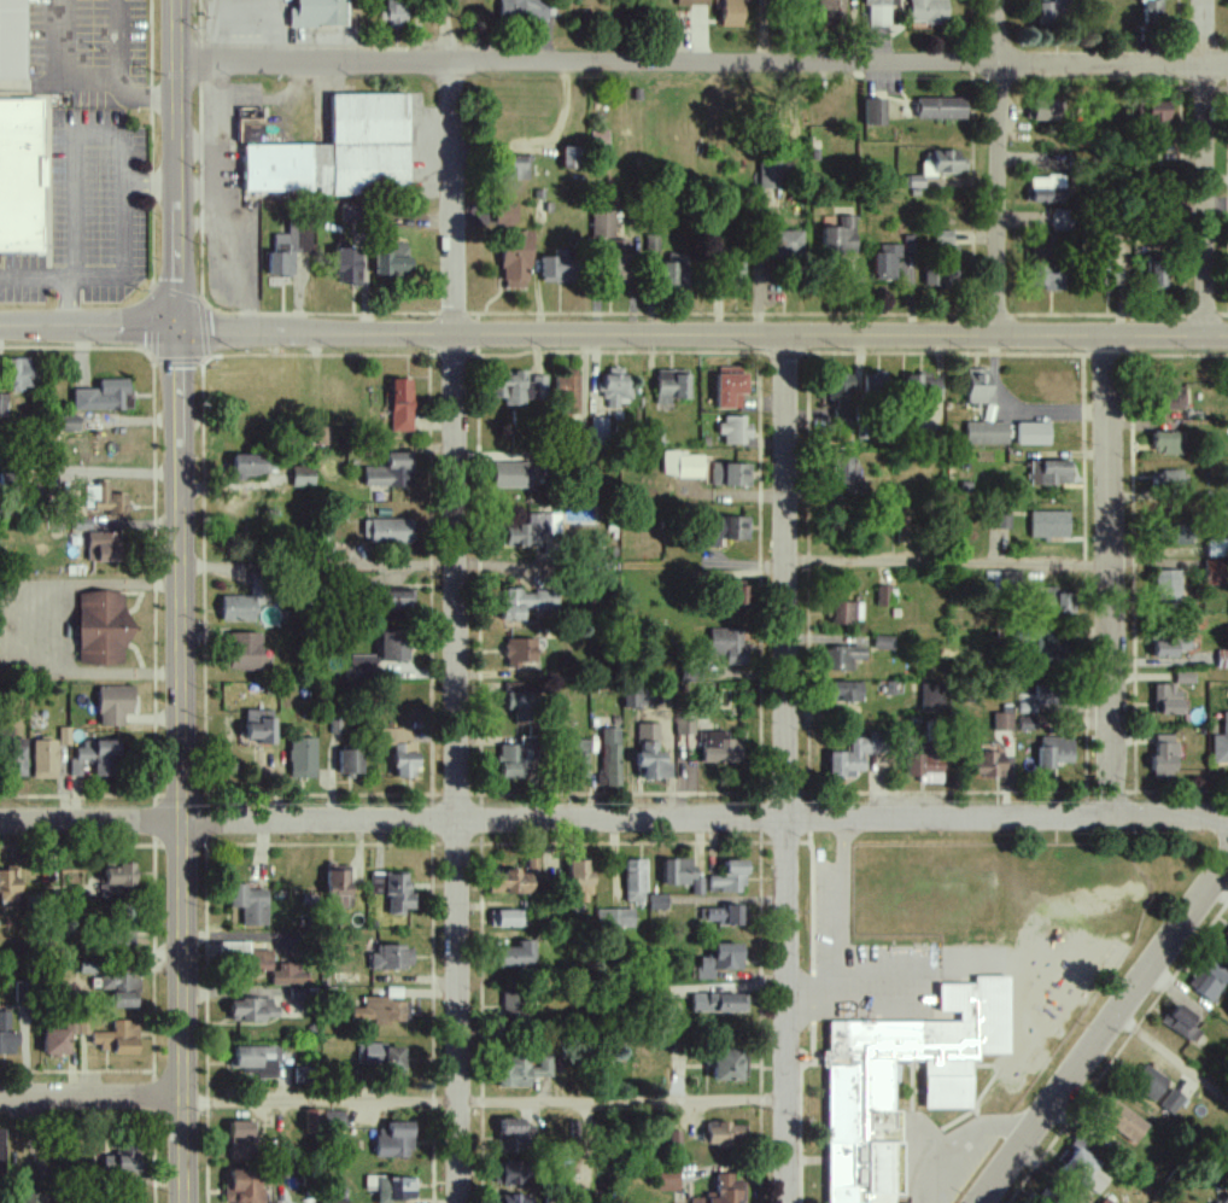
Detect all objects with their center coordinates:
building: (691, 2)
building: (831, 10)
building: (394, 11)
building: (879, 11)
building: (928, 11)
building: (317, 13)
building: (732, 13)
building: (1051, 13)
building: (1152, 13)
building: (13, 39)
road: (702, 60)
road: (88, 78)
road: (269, 100)
building: (941, 109)
building: (1048, 110)
building: (875, 112)
building: (1157, 117)
building: (250, 125)
road: (122, 136)
road: (197, 144)
building: (340, 153)
building: (571, 158)
building: (942, 163)
road: (999, 165)
road: (1203, 167)
building: (517, 168)
building: (21, 175)
building: (773, 175)
building: (914, 181)
road: (152, 182)
road: (198, 188)
building: (1047, 189)
road: (217, 199)
building: (349, 212)
building: (504, 216)
building: (1063, 221)
road: (197, 222)
building: (603, 224)
building: (838, 238)
building: (943, 238)
building: (293, 240)
building: (651, 243)
building: (784, 246)
building: (911, 246)
building: (392, 259)
building: (515, 259)
building: (887, 262)
building: (619, 263)
building: (281, 264)
building: (347, 267)
building: (943, 268)
building: (559, 270)
building: (1158, 270)
building: (735, 273)
building: (1048, 273)
building: (673, 274)
road: (37, 278)
building: (1112, 278)
road: (75, 303)
road: (89, 328)
road: (703, 331)
building: (21, 374)
building: (875, 385)
building: (672, 386)
building: (978, 386)
building: (615, 387)
building: (730, 387)
building: (923, 387)
building: (519, 389)
building: (567, 396)
building: (103, 397)
building: (1173, 397)
building: (840, 399)
building: (400, 405)
building: (2, 407)
building: (516, 419)
building: (69, 422)
building: (598, 430)
building: (735, 430)
building: (987, 433)
building: (1033, 433)
building: (843, 439)
building: (1169, 442)
building: (252, 463)
building: (682, 465)
building: (388, 471)
building: (1049, 472)
building: (731, 473)
building: (511, 474)
building: (847, 474)
building: (302, 477)
building: (1171, 478)
building: (104, 498)
building: (1001, 519)
building: (1048, 524)
building: (906, 527)
building: (725, 528)
building: (1174, 528)
building: (386, 530)
building: (103, 545)
building: (1217, 548)
road: (947, 562)
building: (1212, 572)
road: (1111, 574)
building: (1166, 586)
building: (739, 594)
building: (883, 595)
building: (397, 597)
road: (180, 601)
road: (456, 601)
building: (241, 602)
building: (525, 602)
building: (1064, 602)
building: (847, 612)
building: (101, 627)
road: (63, 631)
building: (884, 642)
building: (1048, 642)
building: (727, 643)
building: (392, 646)
building: (1169, 646)
building: (244, 650)
building: (519, 650)
building: (842, 655)
building: (1222, 659)
building: (362, 666)
building: (1183, 677)
building: (844, 690)
building: (637, 696)
building: (932, 696)
building: (1165, 699)
building: (520, 701)
building: (113, 703)
building: (1035, 707)
building: (1002, 722)
building: (258, 725)
building: (684, 725)
building: (64, 735)
building: (1221, 743)
building: (719, 747)
building: (399, 751)
building: (1054, 751)
building: (650, 752)
building: (1164, 754)
building: (14, 757)
building: (302, 757)
building: (515, 757)
building: (579, 757)
building: (609, 757)
building: (94, 758)
building: (45, 759)
building: (349, 760)
building: (989, 764)
building: (925, 766)
road: (784, 767)
road: (704, 818)
road: (90, 822)
building: (118, 874)
building: (682, 874)
building: (730, 877)
building: (77, 878)
building: (514, 880)
building: (579, 880)
building: (635, 881)
building: (8, 884)
building: (338, 887)
building: (393, 890)
building: (109, 892)
building: (656, 901)
building: (248, 904)
road: (844, 904)
building: (721, 915)
building: (507, 917)
building: (615, 917)
building: (119, 933)
building: (1227, 936)
building: (247, 956)
building: (392, 956)
building: (516, 956)
building: (720, 959)
building: (287, 975)
building: (117, 980)
building: (1210, 980)
road: (815, 992)
building: (123, 998)
building: (719, 1001)
building: (513, 1003)
building: (251, 1009)
building: (380, 1010)
building: (1183, 1022)
road: (1103, 1030)
building: (6, 1035)
building: (63, 1036)
building: (117, 1038)
road: (1171, 1055)
building: (382, 1057)
building: (256, 1059)
building: (726, 1064)
building: (522, 1070)
building: (1150, 1082)
building: (859, 1087)
road: (92, 1097)
road: (320, 1098)
road: (622, 1100)
building: (1173, 1102)
building: (311, 1120)
building: (334, 1120)
building: (1124, 1121)
building: (725, 1134)
building: (510, 1135)
road: (958, 1138)
building: (240, 1139)
building: (394, 1139)
building: (0, 1147)
building: (119, 1161)
building: (1083, 1167)
building: (509, 1173)
building: (667, 1180)
building: (244, 1185)
building: (394, 1189)
building: (724, 1191)
building: (30, 1197)
building: (513, 1198)
building: (1224, 1198)
building: (1106, 1201)
building: (334, 1202)

